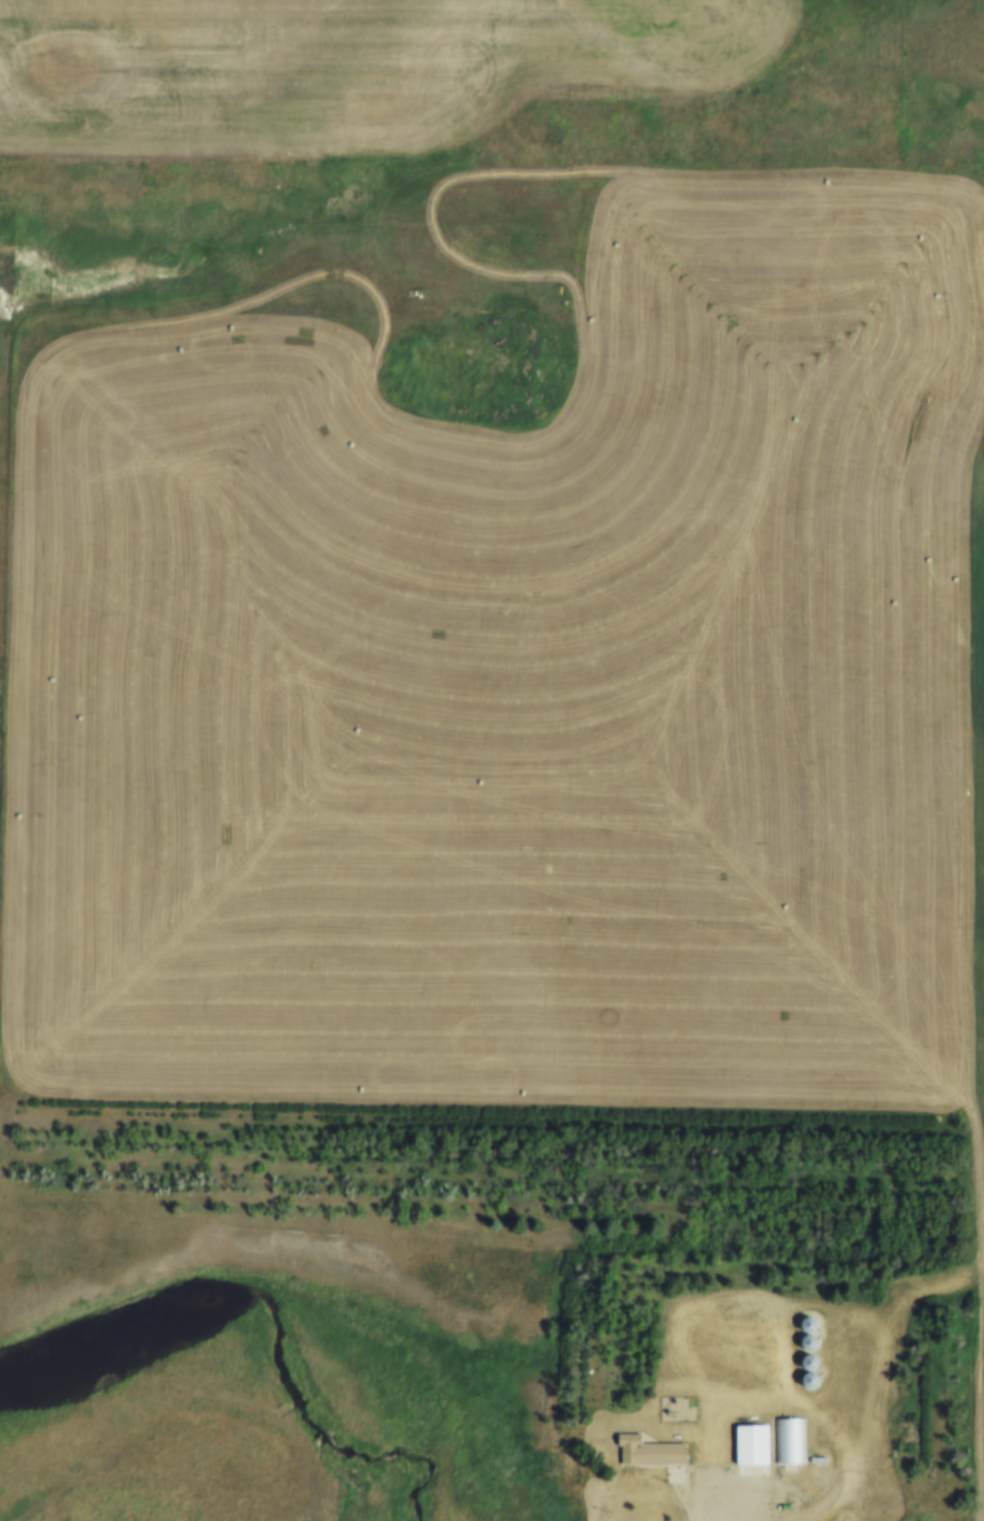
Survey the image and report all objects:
building: (801, 1328)
silo: (801, 1328)
building: (802, 1346)
silo: (802, 1346)
building: (801, 1366)
silo: (801, 1366)
building: (801, 1384)
silo: (801, 1384)
building: (788, 1444)
building: (746, 1447)
building: (649, 1453)
building: (814, 1463)
road: (772, 1508)

